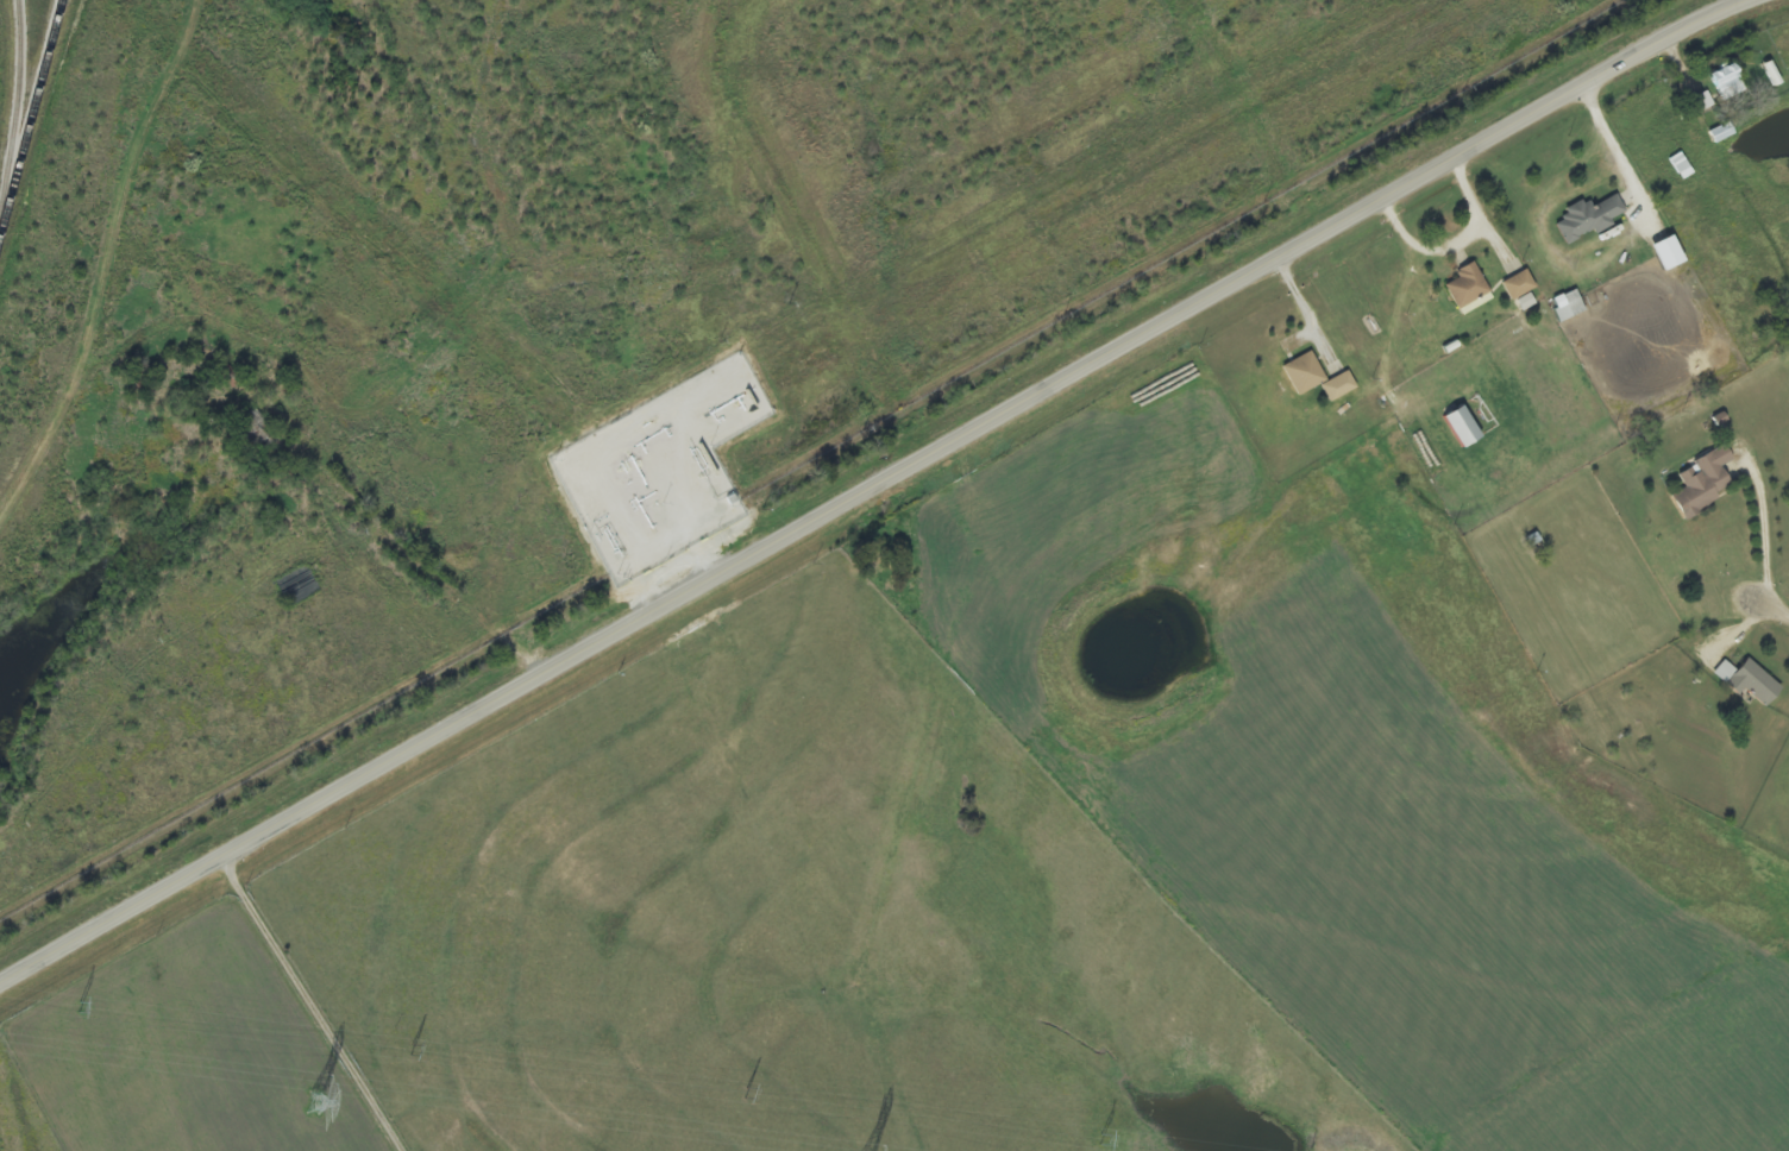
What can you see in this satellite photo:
building: (1728, 82)
building: (1700, 103)
railway: (23, 119)
railway: (31, 127)
building: (1721, 133)
building: (1589, 219)
building: (1669, 254)
building: (1519, 285)
building: (1468, 287)
building: (1569, 306)
power plant: (544, 309)
building: (1305, 375)
building: (1339, 388)
building: (1463, 428)
building: (1705, 484)
road: (870, 493)
road: (1770, 615)
building: (1750, 681)
power tower: (92, 1008)
power tower: (412, 1053)
power tower: (749, 1095)
power tower: (306, 1102)
power tower: (1096, 1139)

